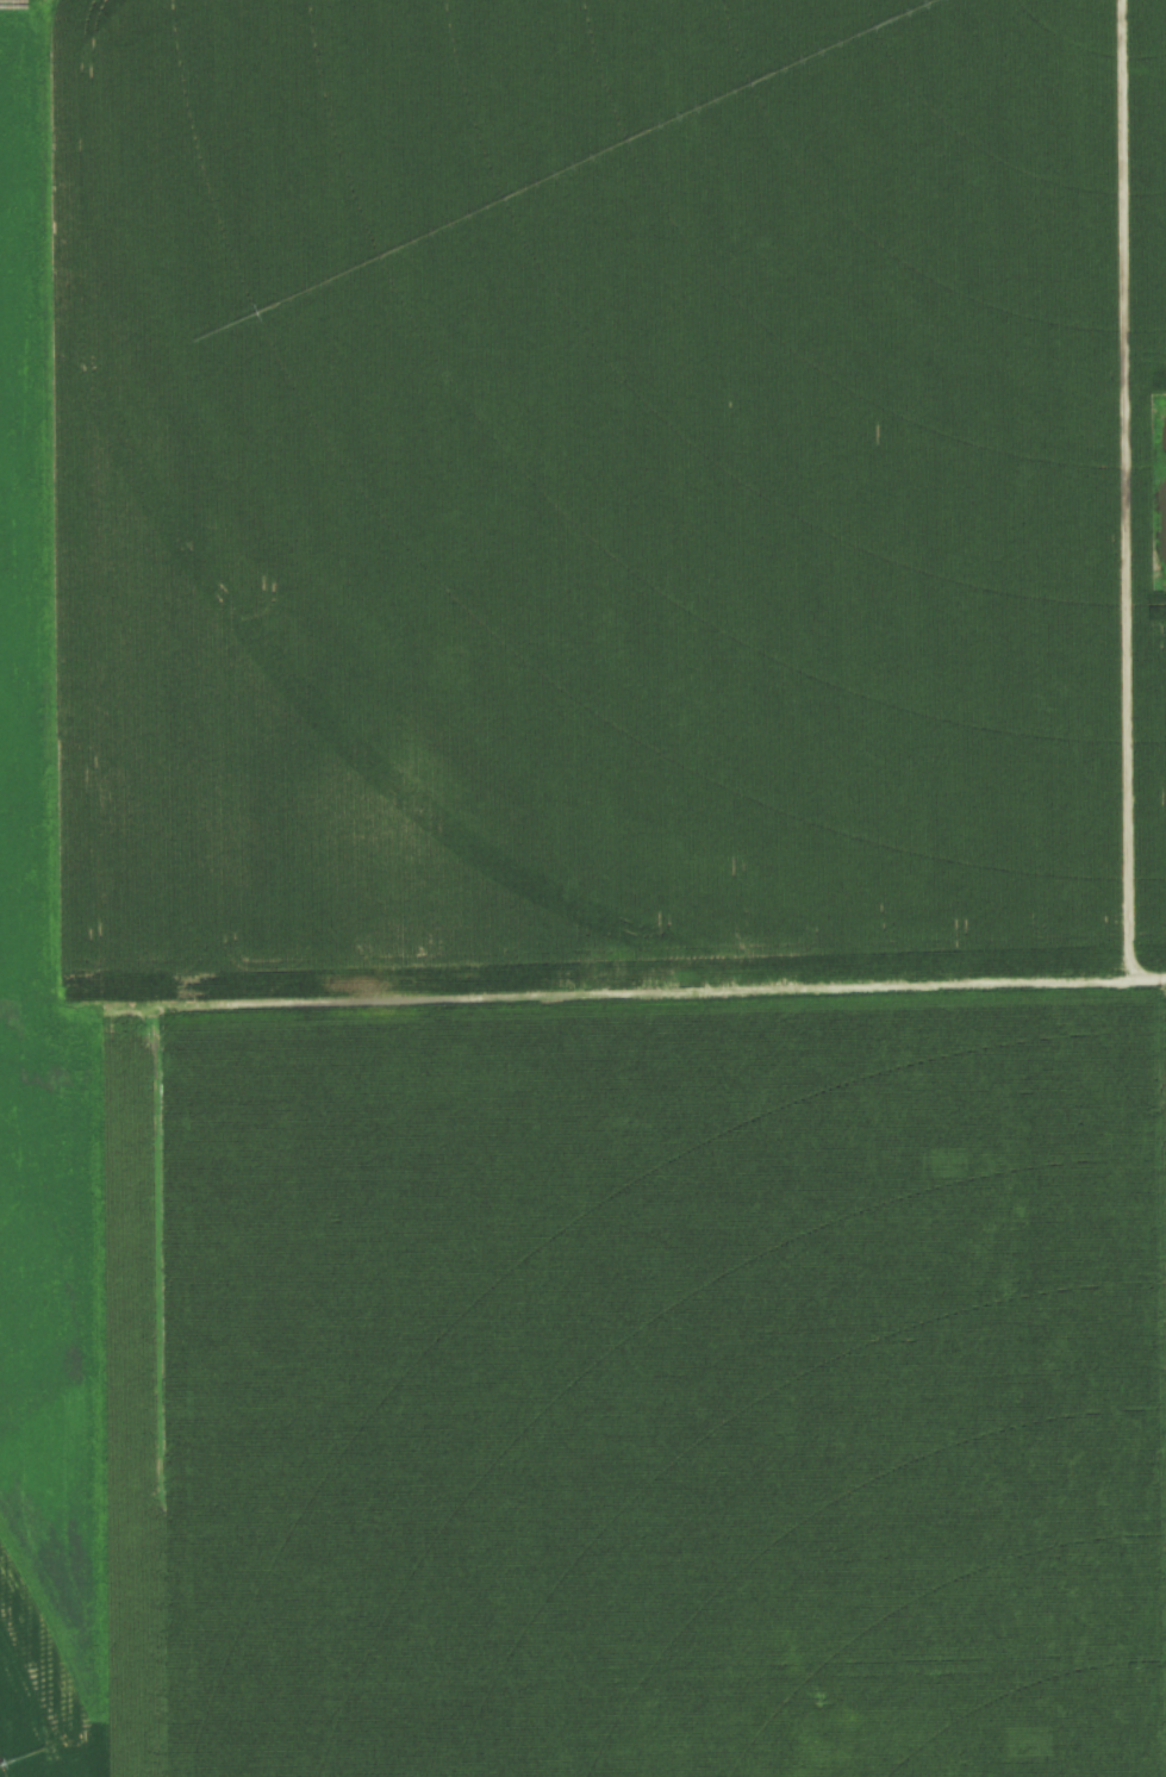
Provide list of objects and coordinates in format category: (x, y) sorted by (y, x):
crop: (582, 888)
road: (823, 987)
road: (1014, 1382)

